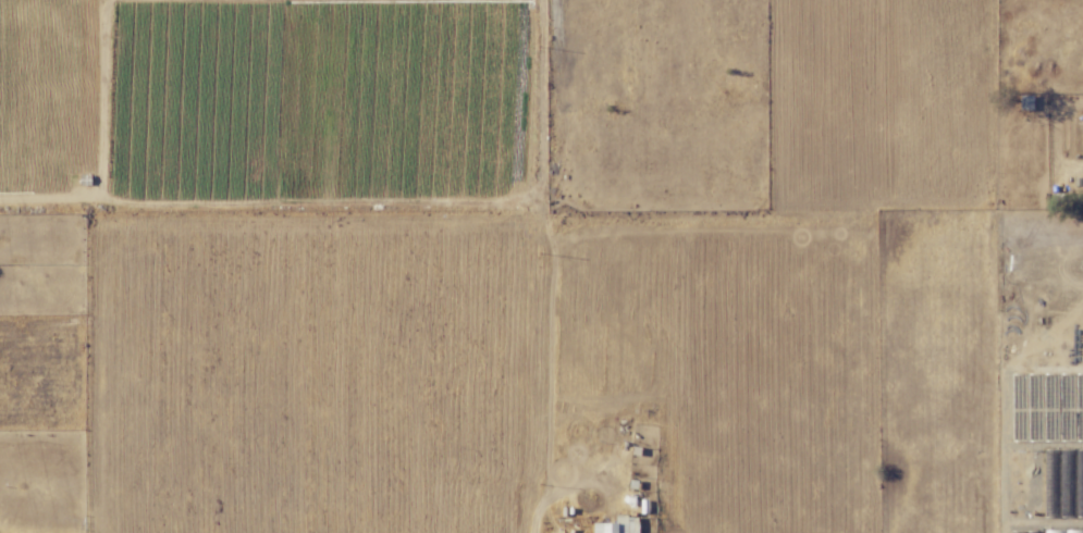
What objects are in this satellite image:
building: (1025, 101)
building: (617, 525)

